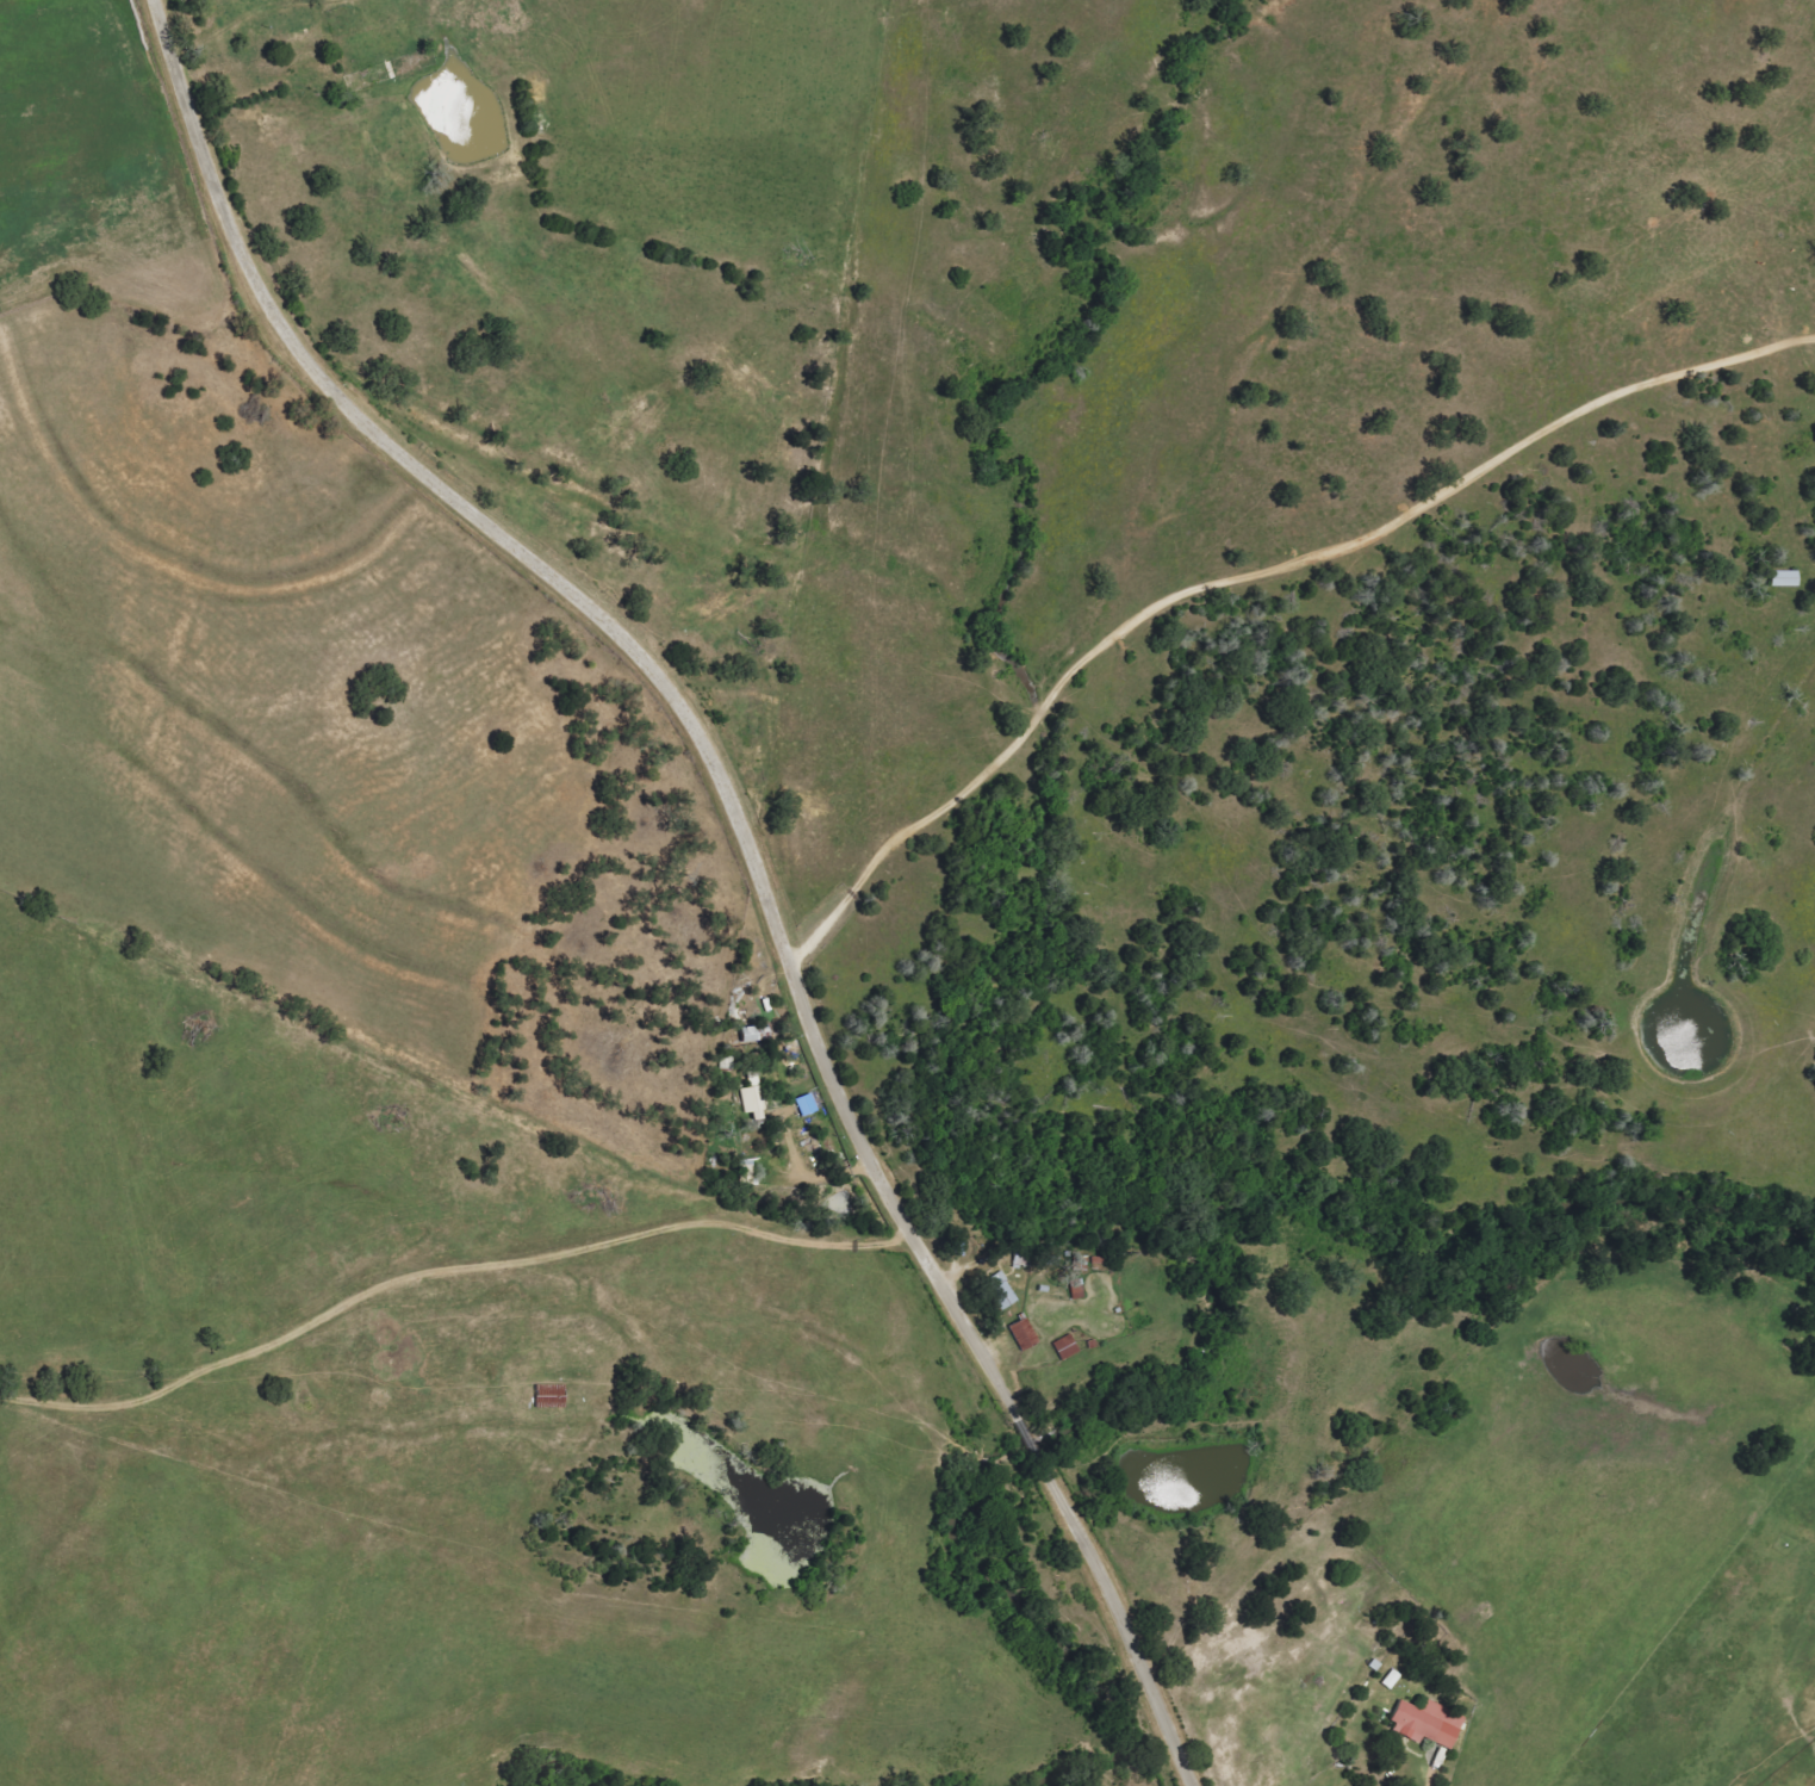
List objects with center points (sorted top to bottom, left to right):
road: (1251, 577)
building: (1785, 578)
road: (742, 837)
building: (754, 1102)
building: (807, 1105)
park: (483, 1160)
building: (1001, 1290)
building: (1024, 1333)
building: (1067, 1347)
road: (435, 1352)
building: (1428, 1723)

